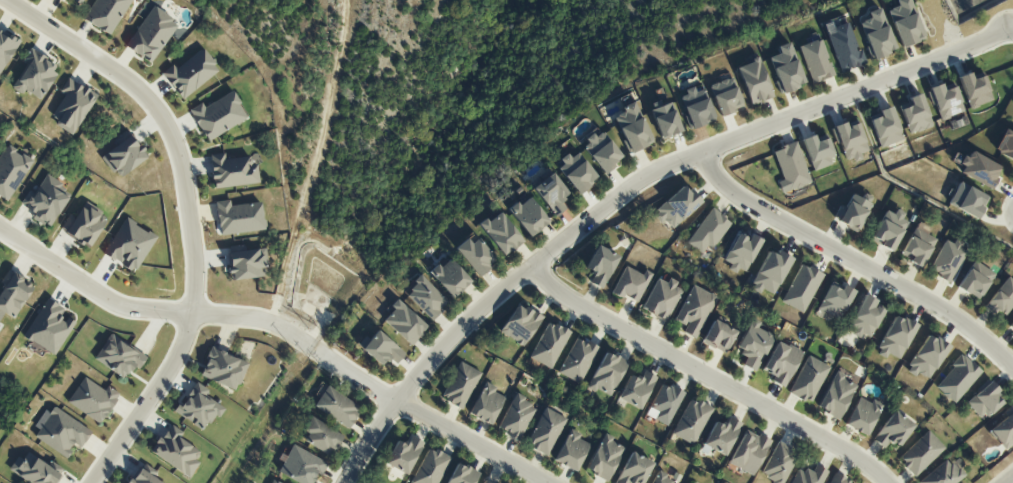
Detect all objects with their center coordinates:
building: (905, 23)
road: (1012, 33)
building: (876, 34)
building: (843, 46)
building: (815, 61)
building: (785, 68)
building: (190, 73)
building: (754, 81)
building: (975, 89)
building: (724, 95)
building: (945, 100)
building: (696, 108)
building: (915, 114)
building: (217, 115)
building: (665, 119)
building: (632, 127)
building: (886, 127)
building: (849, 140)
building: (1005, 145)
building: (601, 151)
building: (817, 152)
building: (790, 167)
building: (232, 171)
building: (576, 171)
road: (627, 185)
building: (551, 194)
building: (967, 200)
building: (676, 207)
building: (852, 211)
road: (191, 214)
building: (527, 215)
building: (239, 217)
building: (888, 229)
building: (708, 231)
building: (501, 233)
building: (917, 244)
building: (741, 252)
building: (475, 254)
road: (856, 259)
building: (948, 260)
building: (247, 264)
building: (600, 265)
building: (769, 272)
building: (449, 276)
building: (975, 279)
building: (630, 283)
building: (801, 288)
building: (1002, 297)
building: (425, 298)
building: (661, 299)
building: (835, 300)
building: (694, 310)
road: (150, 311)
building: (865, 317)
building: (404, 322)
building: (520, 324)
building: (1011, 325)
building: (718, 336)
building: (895, 337)
building: (753, 344)
building: (549, 345)
building: (380, 348)
building: (926, 357)
building: (577, 360)
building: (781, 362)
building: (223, 369)
building: (607, 373)
road: (706, 377)
building: (957, 378)
building: (808, 379)
building: (460, 385)
building: (636, 389)
building: (835, 395)
building: (984, 400)
building: (665, 403)
building: (486, 404)
building: (198, 406)
building: (337, 407)
building: (861, 415)
building: (516, 417)
building: (691, 421)
road: (432, 422)
building: (1004, 429)
building: (893, 430)
building: (545, 431)
building: (721, 436)
building: (321, 437)
building: (571, 450)
building: (748, 452)
building: (178, 453)
building: (920, 453)
building: (403, 454)
building: (604, 458)
building: (778, 463)
building: (301, 466)
building: (430, 467)
building: (634, 469)
building: (944, 473)
building: (462, 474)
building: (809, 475)
building: (661, 479)
building: (837, 479)
road: (1009, 480)
building: (273, 481)
building: (483, 482)

